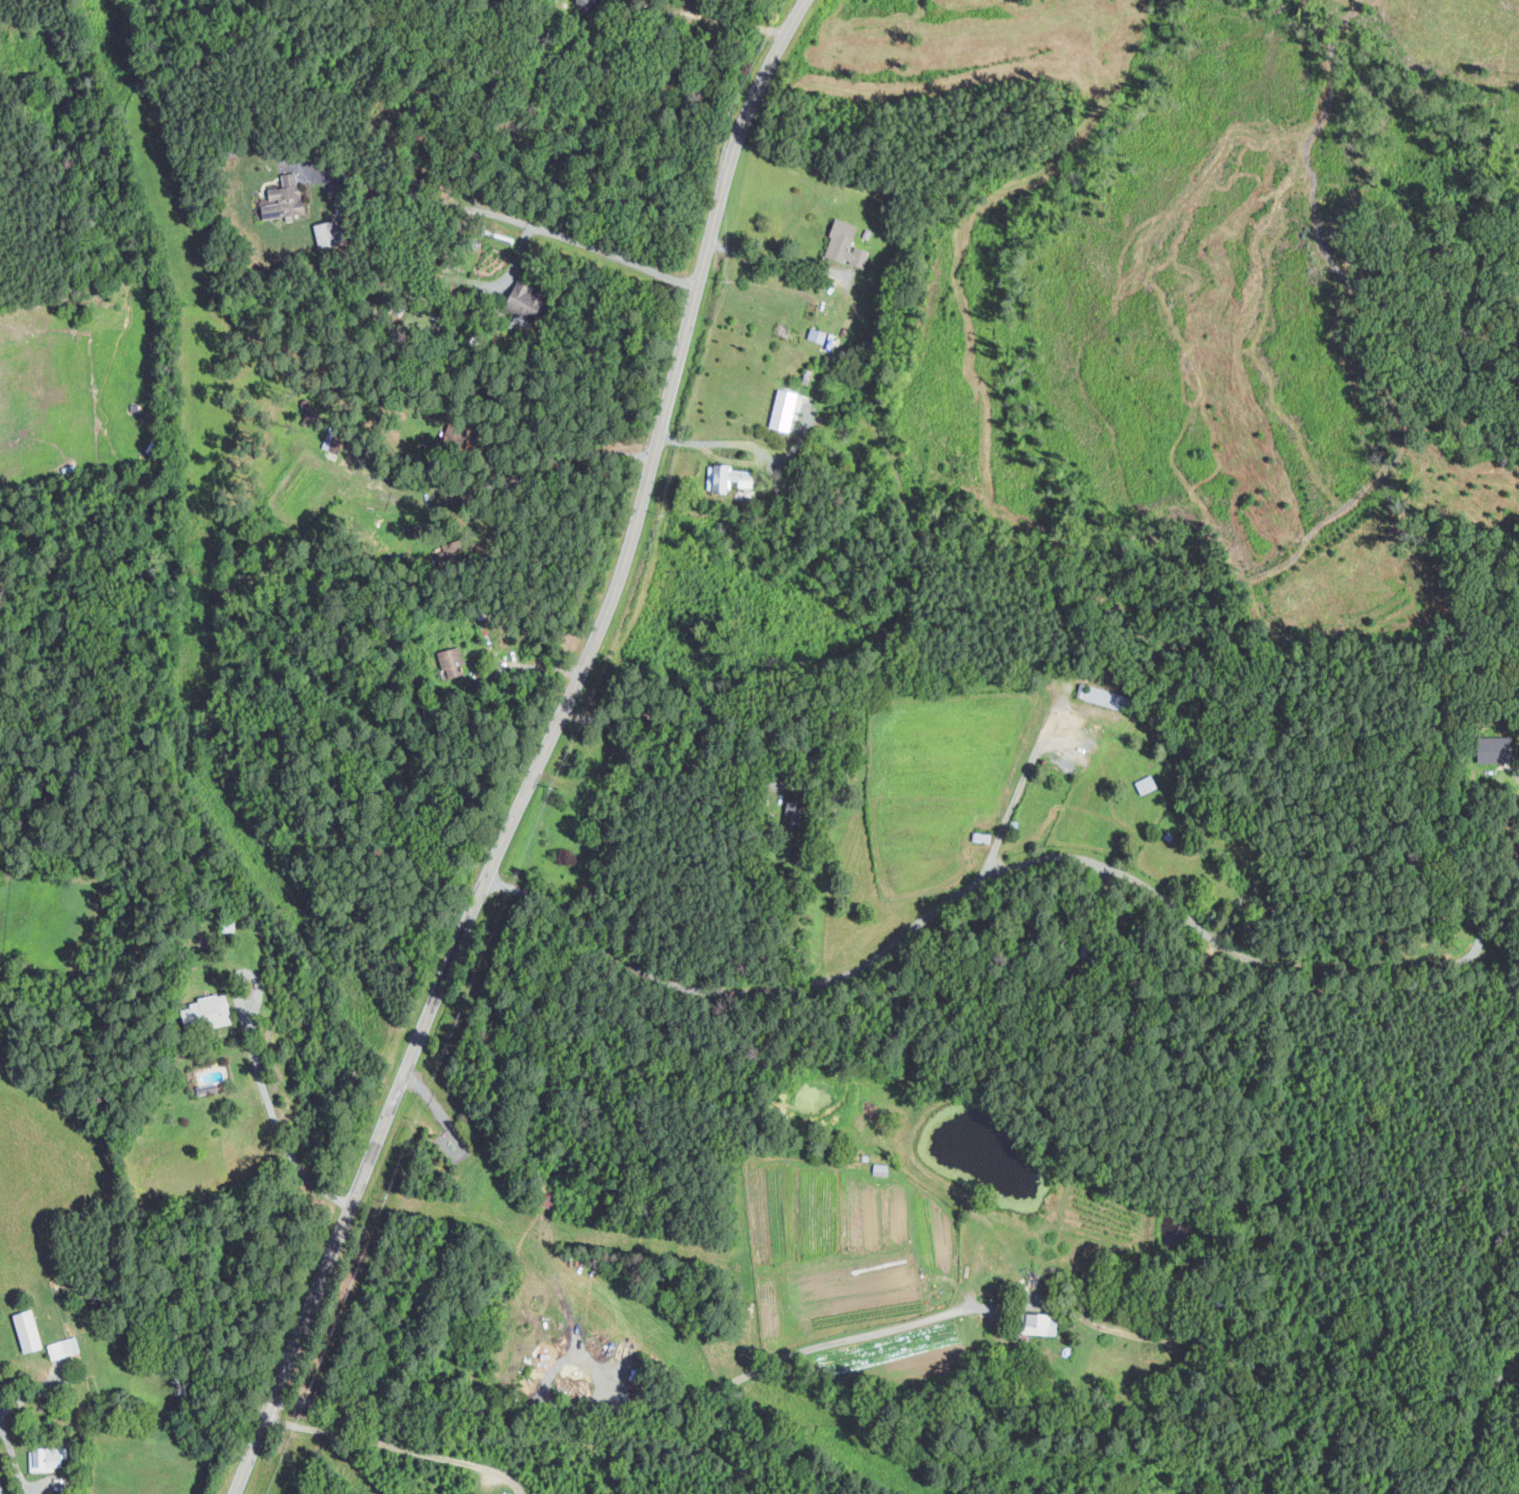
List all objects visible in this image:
building: (585, 2)
road: (720, 19)
road: (345, 175)
building: (284, 198)
road: (545, 231)
building: (327, 233)
building: (845, 244)
road: (776, 260)
road: (474, 282)
building: (525, 301)
building: (781, 407)
road: (710, 443)
building: (728, 477)
building: (452, 663)
road: (528, 666)
building: (1107, 698)
road: (689, 712)
building: (1495, 750)
road: (543, 753)
road: (1021, 786)
building: (977, 834)
building: (1169, 836)
road: (970, 886)
road: (1492, 905)
building: (1090, 947)
building: (206, 1012)
building: (206, 1087)
road: (430, 1099)
road: (272, 1111)
building: (878, 1165)
building: (957, 1295)
building: (1039, 1323)
building: (27, 1330)
building: (63, 1347)
road: (636, 1407)
road: (1475, 1424)
road: (399, 1448)
building: (46, 1457)

